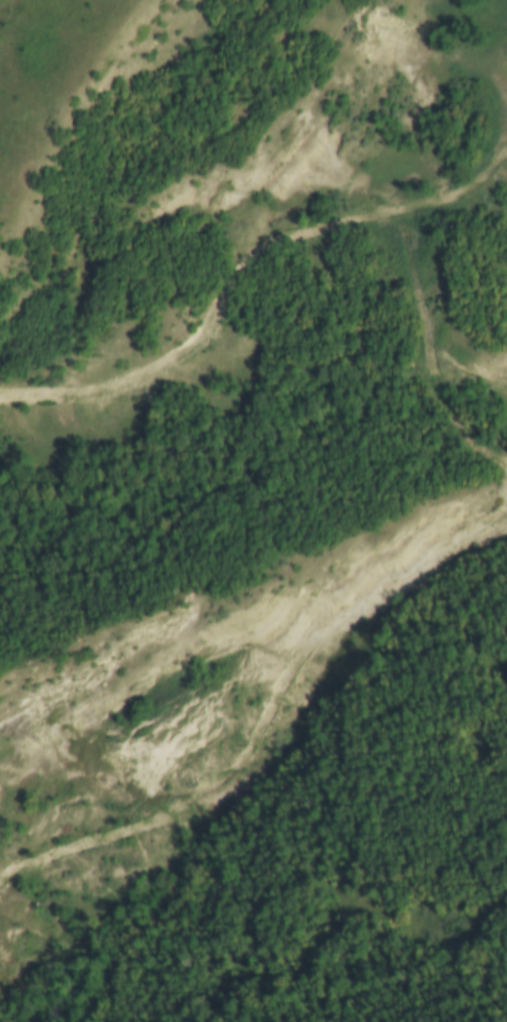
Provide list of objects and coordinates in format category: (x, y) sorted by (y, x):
road: (245, 282)

